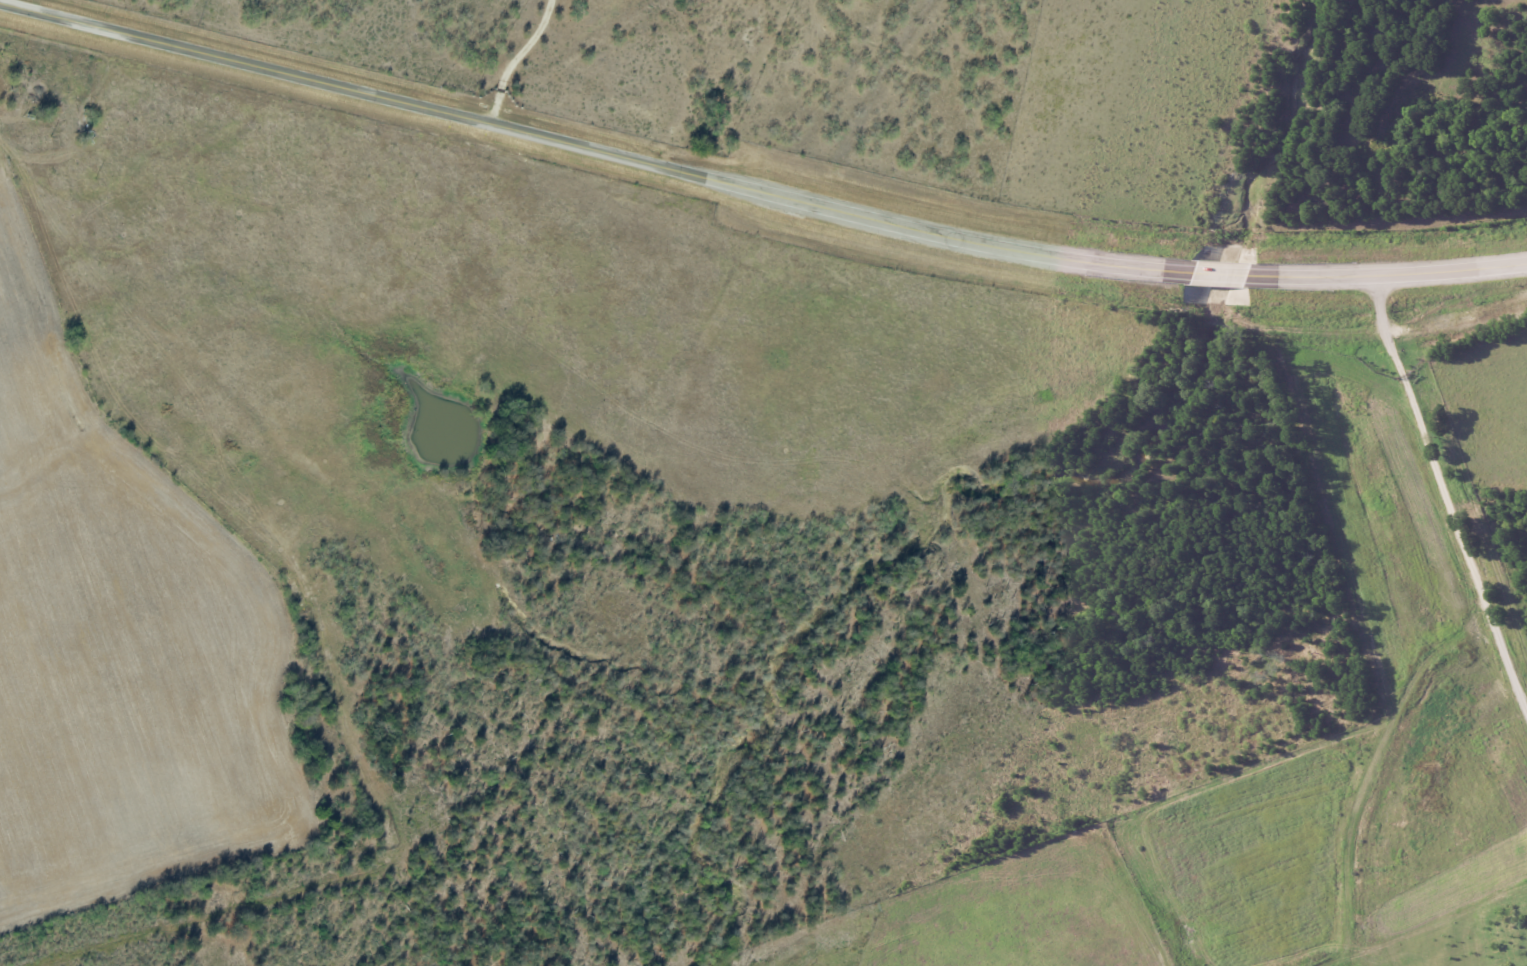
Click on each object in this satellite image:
road: (518, 61)
road: (756, 193)
road: (1453, 482)

